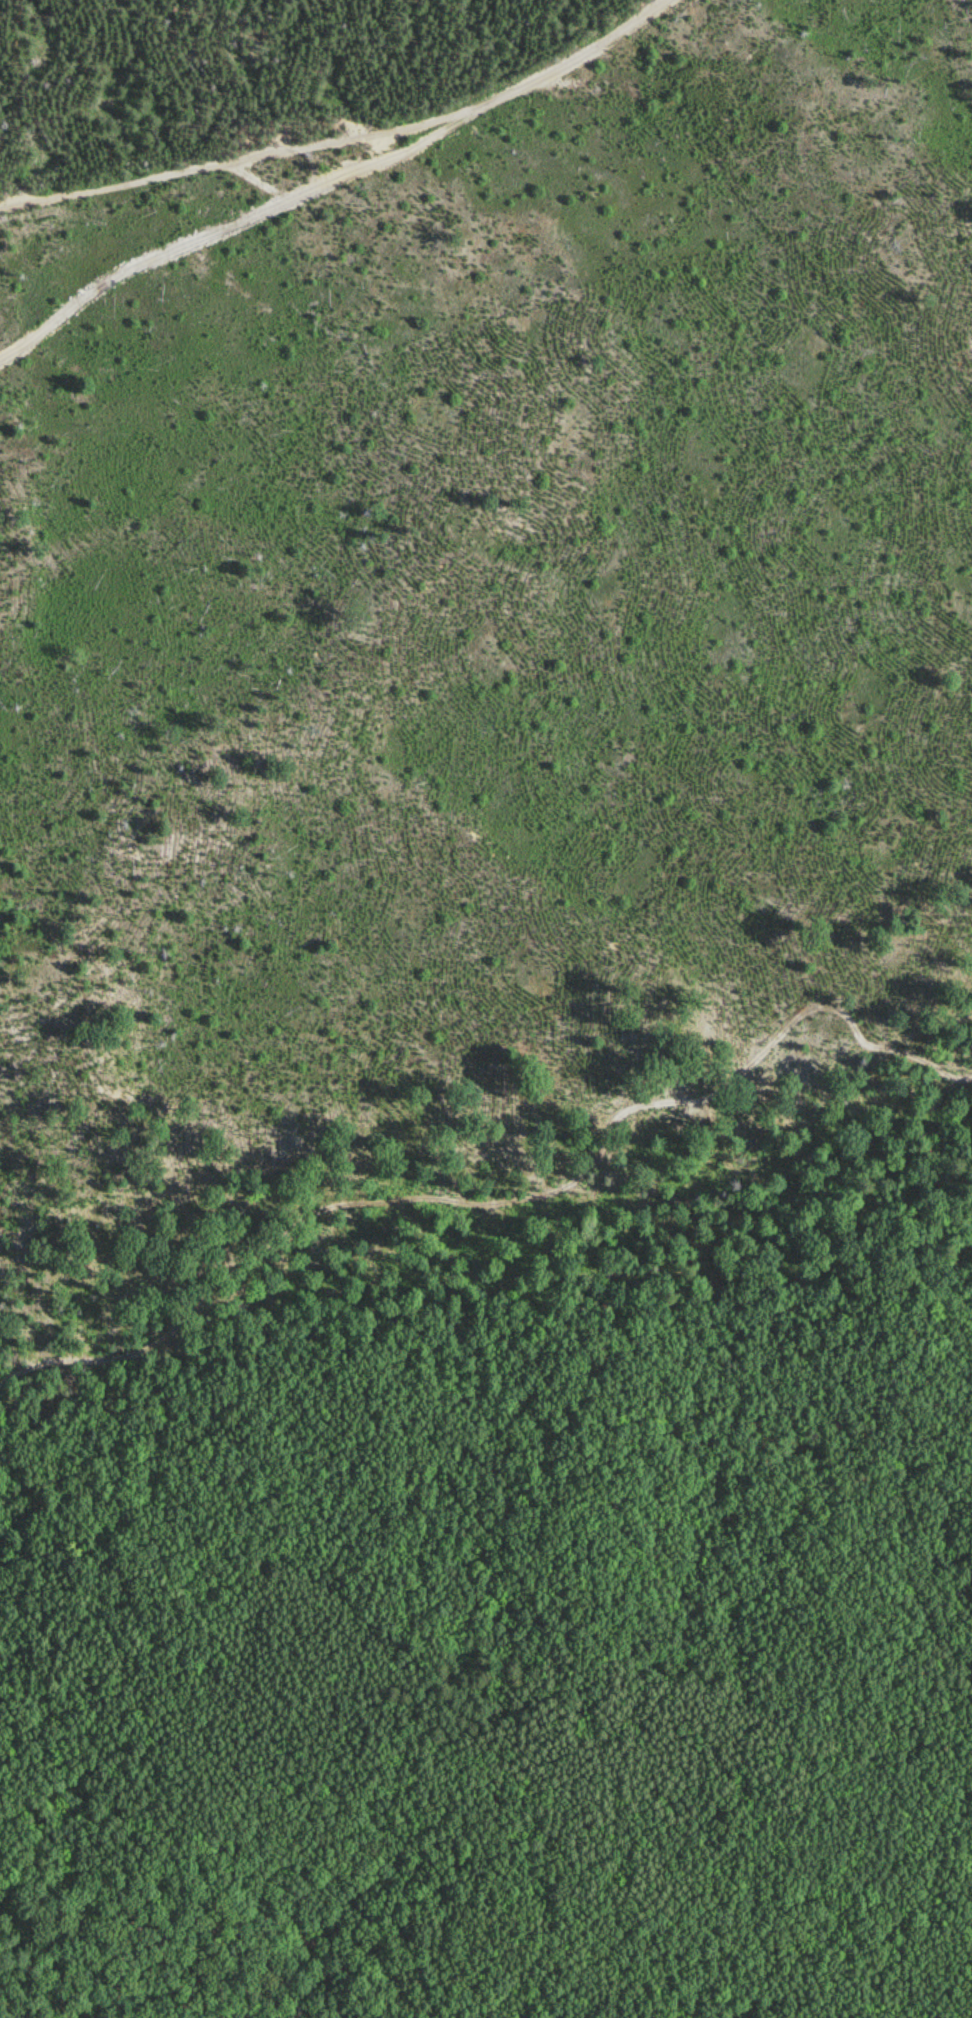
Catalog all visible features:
road: (343, 136)
road: (191, 243)

